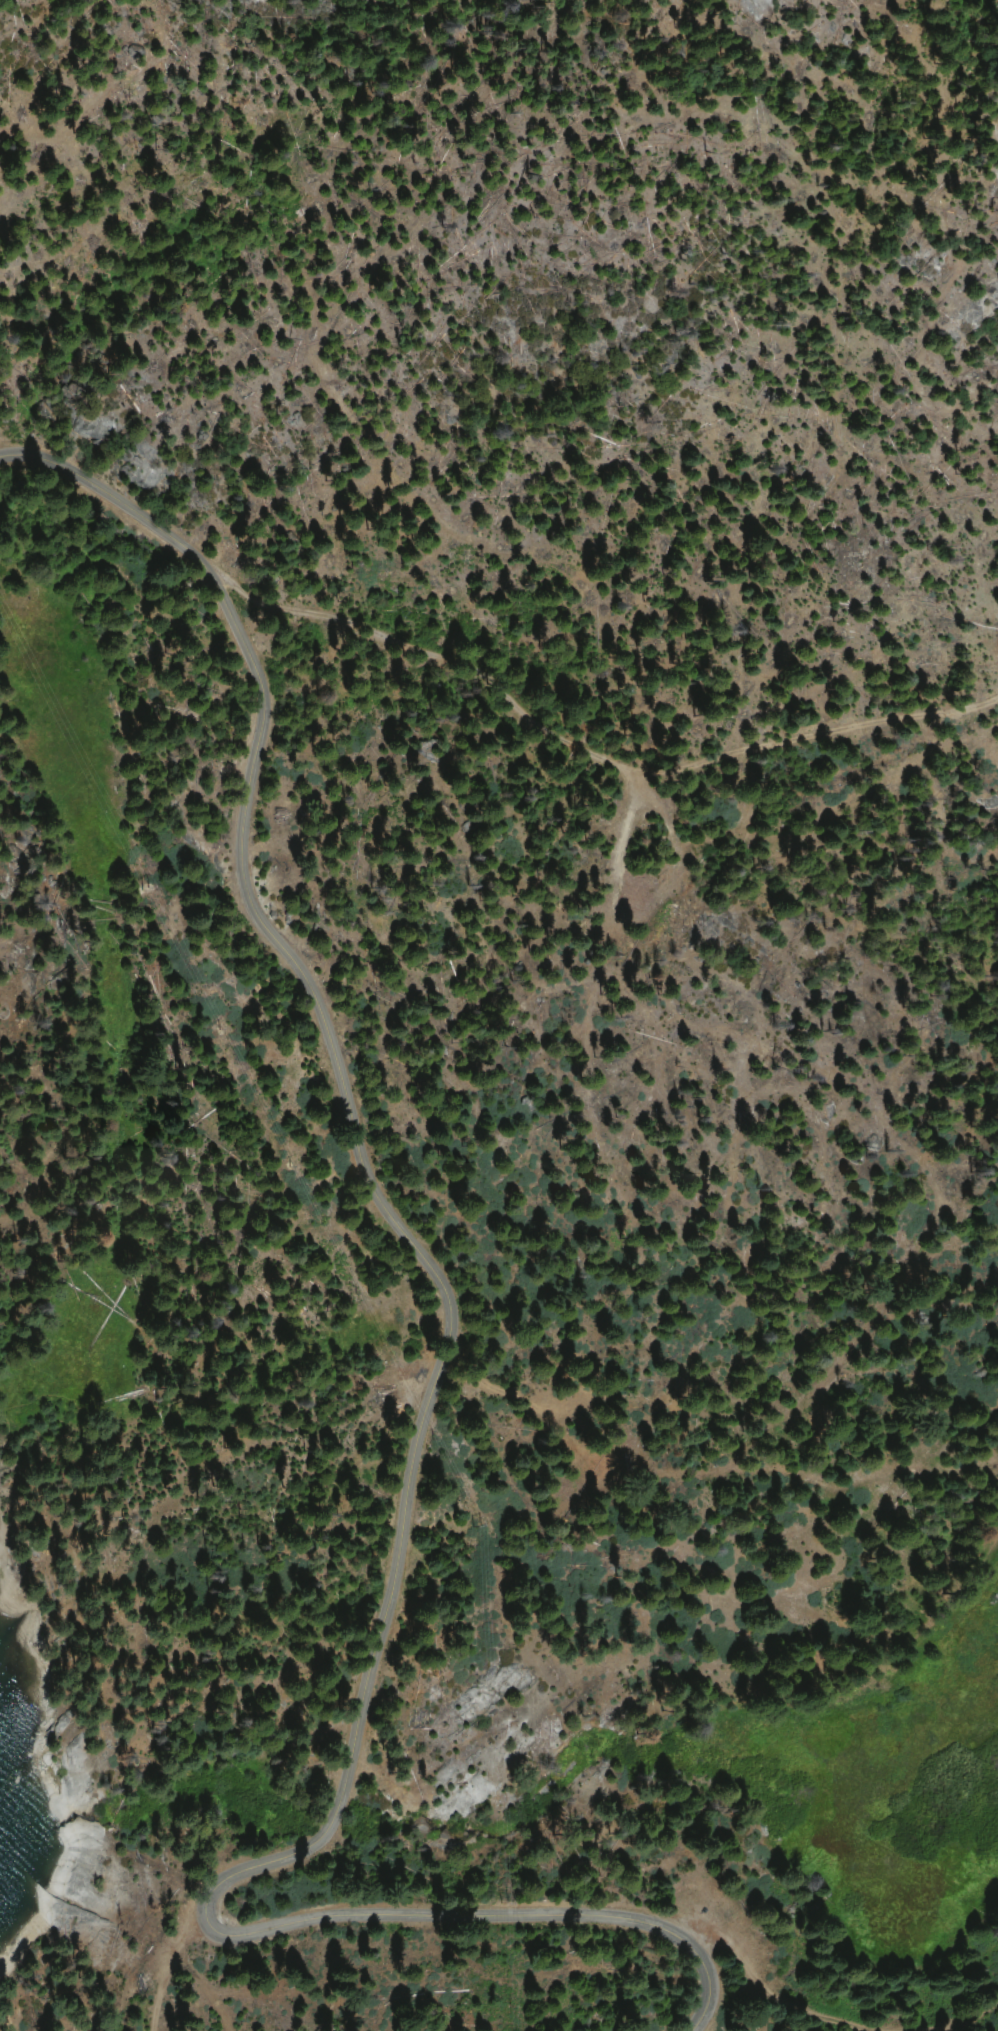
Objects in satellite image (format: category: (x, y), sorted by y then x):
road: (111, 500)
road: (591, 750)
road: (394, 1552)
road: (166, 1967)
road: (781, 2004)
road: (954, 2009)

